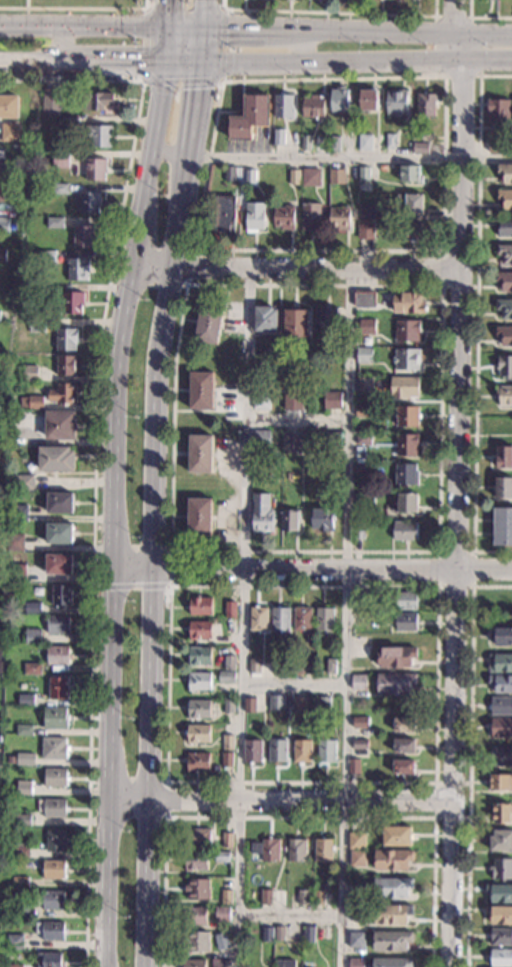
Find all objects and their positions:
traffic signals: (169, 4)
road: (76, 8)
road: (220, 9)
road: (331, 12)
road: (169, 13)
road: (207, 14)
road: (468, 17)
road: (482, 17)
road: (84, 28)
road: (188, 29)
traffic signals: (227, 30)
road: (359, 32)
road: (167, 44)
road: (207, 45)
road: (304, 46)
road: (82, 60)
traffic signals: (140, 60)
road: (186, 60)
road: (359, 61)
traffic signals: (203, 87)
building: (368, 100)
building: (338, 101)
building: (52, 103)
building: (99, 103)
building: (395, 103)
building: (424, 104)
building: (282, 107)
building: (313, 107)
building: (9, 109)
road: (200, 109)
building: (498, 113)
building: (249, 118)
building: (71, 124)
building: (9, 135)
building: (99, 137)
building: (278, 137)
building: (389, 141)
building: (305, 143)
building: (364, 143)
building: (334, 144)
building: (495, 147)
building: (419, 148)
road: (173, 156)
road: (353, 159)
building: (59, 160)
building: (11, 169)
building: (96, 171)
building: (504, 173)
building: (229, 175)
building: (363, 175)
building: (409, 175)
building: (335, 177)
building: (249, 178)
building: (294, 178)
building: (311, 178)
building: (61, 191)
building: (6, 198)
building: (505, 199)
building: (410, 204)
building: (90, 205)
building: (366, 212)
building: (224, 214)
building: (253, 217)
building: (309, 217)
building: (283, 218)
building: (338, 218)
building: (55, 225)
building: (4, 227)
building: (504, 228)
building: (364, 231)
building: (408, 231)
building: (84, 238)
road: (430, 250)
building: (504, 254)
building: (2, 256)
building: (48, 259)
road: (189, 265)
road: (298, 269)
building: (78, 271)
building: (504, 282)
road: (441, 285)
building: (2, 288)
building: (49, 292)
building: (362, 300)
building: (406, 303)
building: (74, 306)
building: (504, 308)
road: (475, 316)
building: (264, 319)
building: (324, 319)
building: (294, 323)
building: (209, 324)
building: (365, 327)
building: (37, 328)
building: (405, 331)
building: (504, 336)
building: (67, 341)
building: (362, 355)
building: (404, 360)
building: (503, 366)
building: (67, 367)
building: (29, 376)
building: (362, 383)
building: (403, 388)
building: (200, 391)
building: (64, 396)
building: (503, 396)
building: (330, 401)
building: (260, 402)
building: (291, 403)
building: (33, 404)
building: (0, 406)
building: (360, 411)
building: (25, 415)
building: (405, 416)
road: (297, 421)
building: (61, 427)
building: (2, 439)
building: (260, 439)
building: (332, 439)
building: (362, 440)
building: (290, 442)
building: (405, 444)
road: (93, 451)
building: (199, 455)
building: (503, 457)
building: (57, 461)
building: (361, 468)
building: (404, 474)
road: (456, 483)
building: (26, 485)
building: (502, 488)
building: (364, 500)
building: (406, 503)
building: (60, 505)
road: (115, 511)
building: (2, 512)
building: (261, 514)
building: (20, 516)
building: (198, 517)
building: (320, 520)
building: (288, 521)
building: (502, 527)
building: (403, 531)
building: (357, 532)
building: (60, 536)
building: (2, 542)
building: (15, 545)
road: (148, 548)
road: (175, 550)
road: (158, 561)
building: (59, 566)
road: (313, 568)
building: (19, 576)
road: (129, 586)
road: (471, 587)
building: (62, 598)
building: (405, 600)
building: (355, 602)
building: (503, 603)
building: (200, 607)
building: (33, 610)
building: (228, 610)
road: (242, 618)
building: (301, 619)
building: (322, 619)
road: (345, 619)
building: (257, 620)
building: (280, 620)
building: (404, 622)
building: (59, 627)
building: (229, 627)
building: (198, 631)
building: (503, 637)
building: (33, 639)
building: (359, 653)
building: (198, 656)
building: (394, 657)
building: (58, 658)
building: (227, 662)
building: (500, 663)
building: (275, 666)
building: (297, 666)
building: (253, 667)
building: (329, 667)
building: (33, 672)
building: (225, 677)
building: (197, 682)
building: (394, 684)
building: (500, 684)
road: (292, 685)
building: (358, 686)
building: (59, 691)
building: (27, 702)
building: (275, 703)
building: (323, 704)
building: (247, 705)
building: (298, 705)
building: (228, 706)
building: (500, 707)
building: (197, 710)
building: (56, 721)
building: (358, 723)
building: (402, 725)
building: (501, 728)
building: (25, 733)
building: (197, 735)
building: (226, 743)
building: (358, 744)
building: (402, 746)
building: (55, 749)
building: (251, 751)
building: (276, 752)
building: (299, 752)
building: (324, 753)
building: (500, 756)
road: (469, 757)
building: (226, 760)
building: (26, 761)
building: (195, 762)
building: (352, 766)
building: (402, 767)
building: (57, 779)
road: (144, 781)
road: (165, 781)
building: (500, 782)
building: (23, 788)
road: (434, 798)
road: (284, 799)
building: (54, 810)
building: (501, 812)
road: (299, 817)
building: (22, 821)
building: (396, 837)
building: (197, 838)
building: (226, 841)
building: (355, 841)
building: (501, 841)
building: (55, 843)
building: (322, 850)
building: (264, 851)
building: (295, 851)
building: (22, 852)
building: (221, 857)
building: (356, 859)
building: (391, 860)
building: (194, 862)
building: (500, 869)
building: (55, 871)
building: (21, 884)
building: (196, 889)
building: (391, 889)
building: (499, 894)
building: (317, 895)
building: (264, 897)
building: (226, 898)
building: (299, 898)
building: (52, 901)
building: (355, 913)
building: (20, 914)
building: (391, 914)
building: (222, 915)
building: (499, 915)
building: (193, 916)
road: (288, 916)
building: (52, 931)
building: (278, 933)
building: (307, 934)
building: (266, 935)
building: (501, 938)
building: (355, 941)
building: (196, 942)
building: (221, 942)
building: (390, 942)
building: (16, 944)
building: (500, 958)
building: (51, 960)
building: (219, 963)
building: (284, 963)
building: (355, 963)
building: (391, 963)
building: (192, 964)
building: (14, 965)

